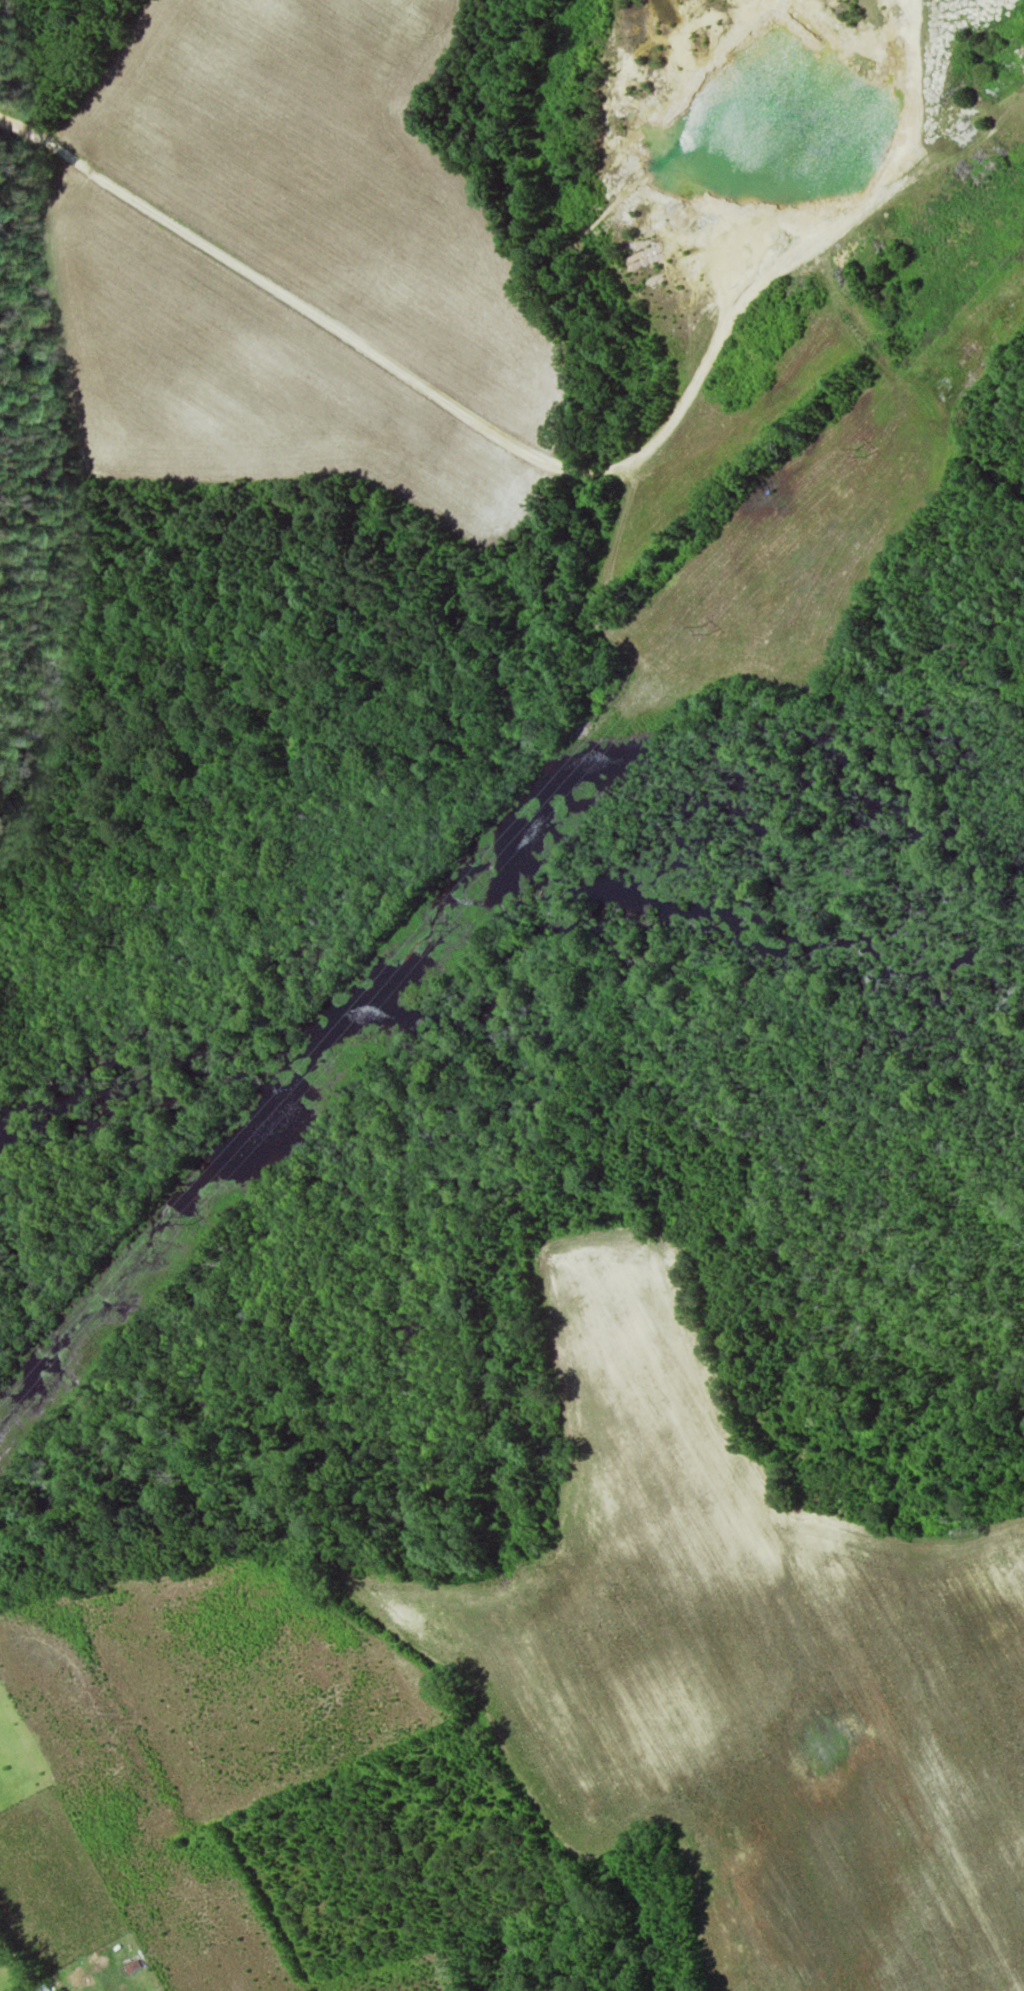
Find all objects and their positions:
power tower: (857, 453)
road: (550, 463)
power tower: (701, 630)
power tower: (444, 924)
power tower: (188, 1218)
building: (130, 1969)

